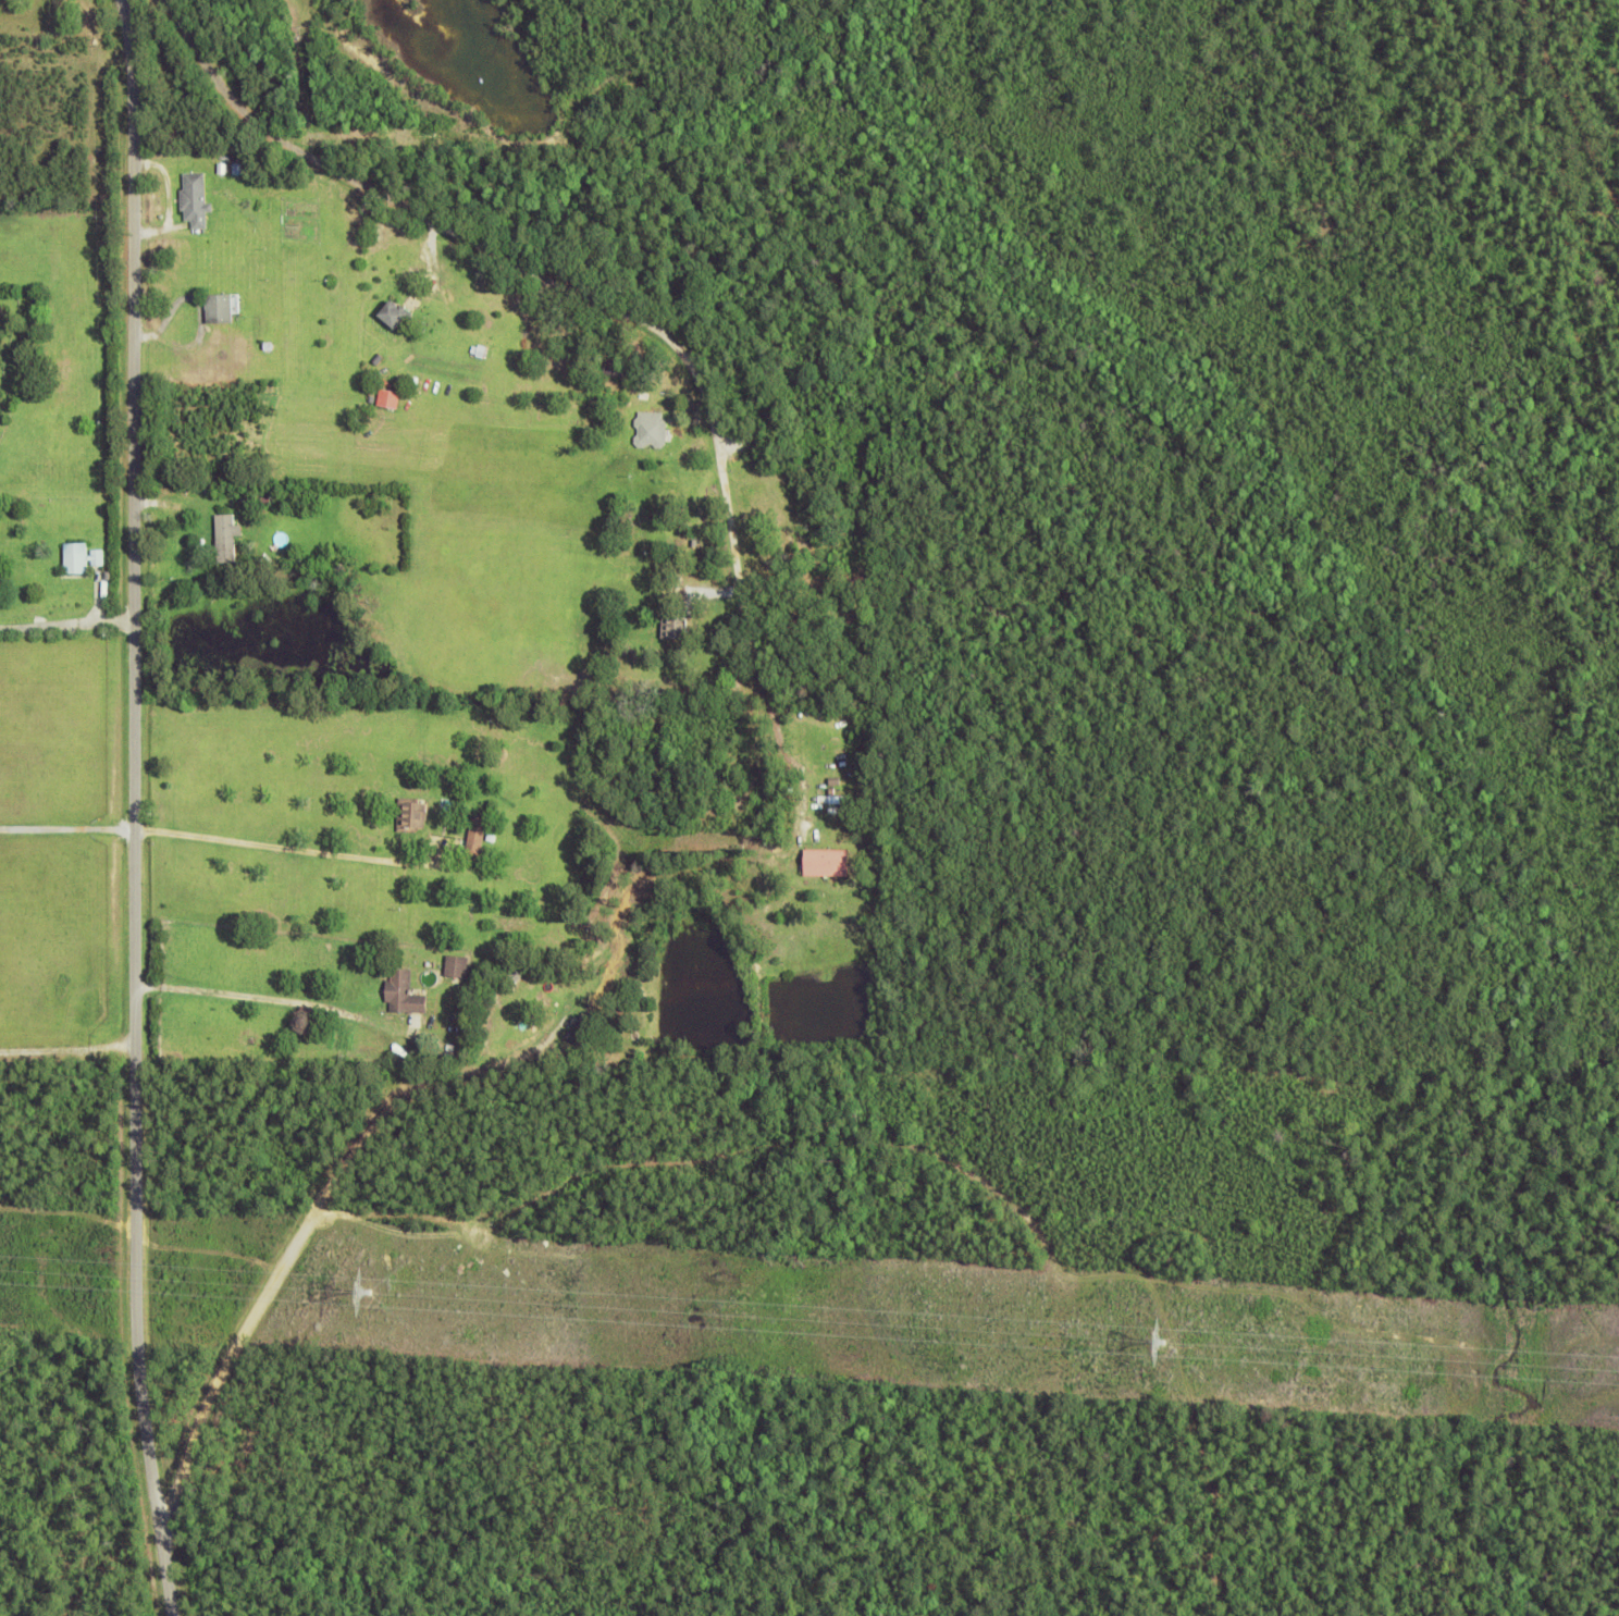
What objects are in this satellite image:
building: (264, 69)
road: (1571, 95)
building: (196, 200)
building: (226, 210)
road: (532, 264)
building: (220, 309)
building: (395, 316)
building: (487, 341)
building: (615, 369)
building: (643, 396)
building: (390, 398)
building: (652, 430)
building: (654, 493)
building: (228, 538)
building: (792, 540)
building: (83, 558)
road: (66, 624)
building: (676, 629)
road: (135, 809)
building: (413, 817)
building: (478, 837)
building: (828, 864)
building: (459, 967)
building: (406, 995)
road: (502, 1065)
power tower: (368, 1292)
power tower: (367, 1302)
power tower: (1164, 1342)
power tower: (1157, 1352)

